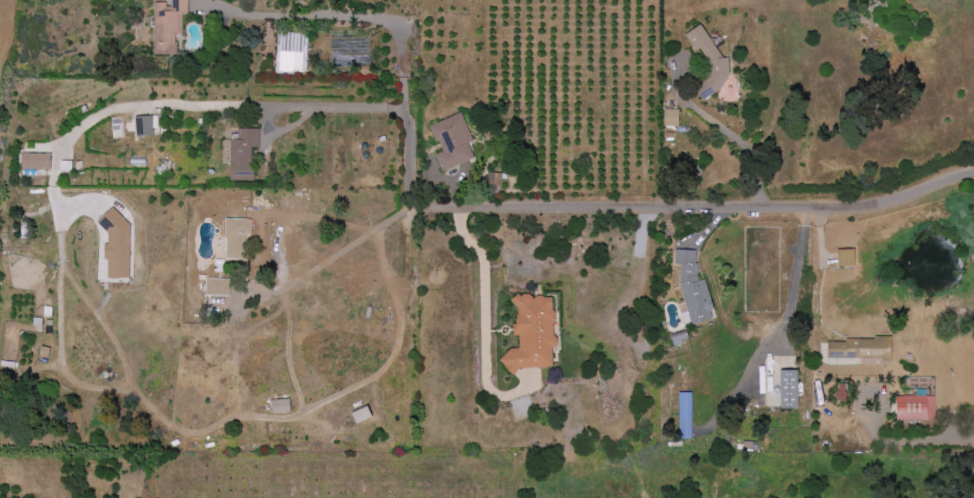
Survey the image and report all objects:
road: (347, 16)
building: (167, 26)
building: (709, 62)
road: (160, 105)
road: (324, 110)
building: (671, 118)
building: (143, 126)
building: (116, 130)
road: (742, 138)
building: (452, 142)
building: (242, 154)
road: (408, 156)
building: (35, 161)
building: (494, 179)
road: (702, 205)
building: (236, 238)
building: (116, 244)
road: (338, 253)
building: (846, 258)
road: (796, 275)
building: (218, 287)
building: (692, 289)
road: (483, 308)
building: (532, 334)
building: (789, 390)
road: (873, 393)
building: (281, 406)
building: (915, 408)
building: (362, 415)
building: (685, 416)
road: (917, 442)

